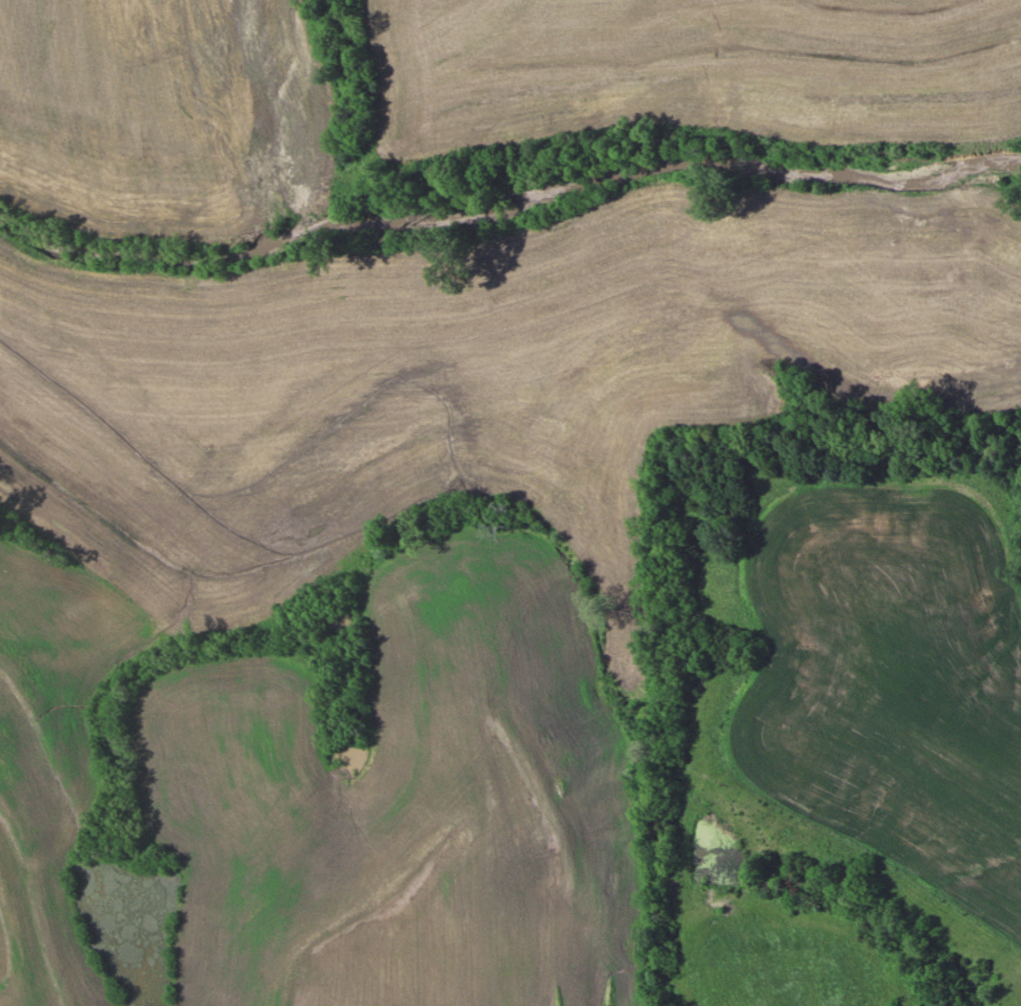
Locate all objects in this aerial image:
river: (507, 199)

